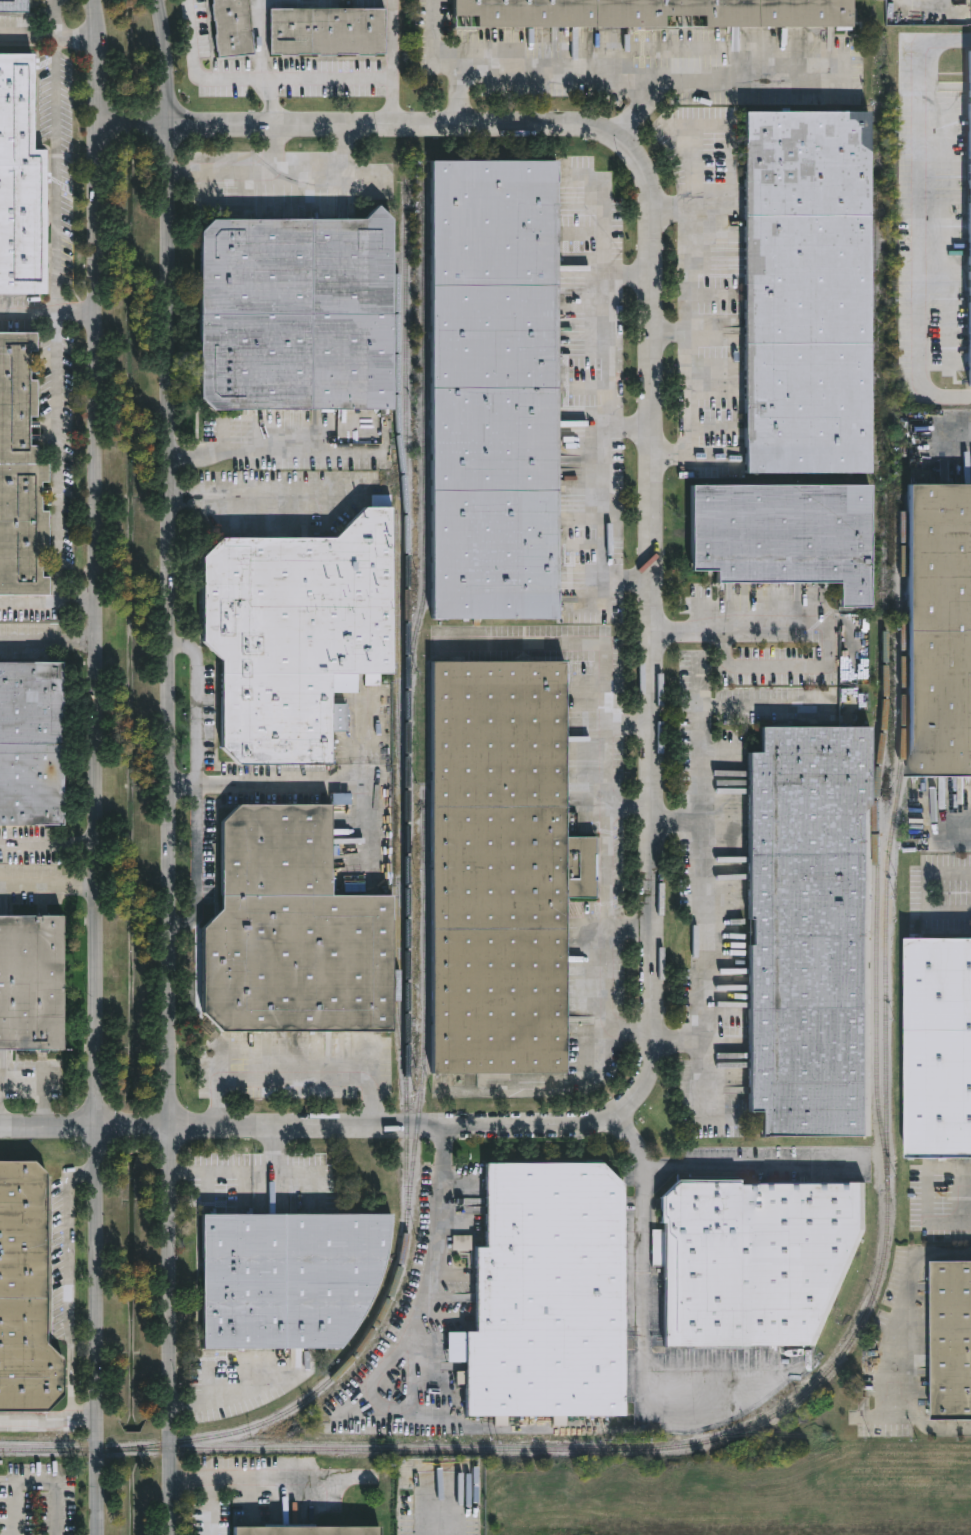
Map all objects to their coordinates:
building: (12, 5)
building: (644, 13)
road: (55, 18)
building: (229, 28)
building: (323, 32)
road: (48, 36)
road: (434, 44)
road: (263, 61)
road: (391, 61)
road: (645, 65)
road: (254, 78)
road: (460, 94)
road: (643, 106)
road: (692, 165)
road: (56, 173)
road: (247, 173)
road: (331, 173)
building: (17, 184)
road: (917, 218)
building: (801, 293)
railway: (873, 301)
road: (600, 307)
road: (48, 309)
road: (692, 313)
building: (292, 314)
road: (673, 333)
railway: (396, 390)
building: (489, 390)
road: (274, 450)
railway: (423, 450)
road: (60, 457)
road: (692, 458)
building: (17, 476)
road: (600, 491)
road: (265, 495)
building: (779, 537)
road: (628, 574)
road: (49, 604)
road: (828, 628)
road: (655, 630)
building: (937, 631)
building: (291, 635)
road: (49, 643)
railway: (396, 672)
road: (698, 682)
railway: (884, 718)
road: (605, 724)
building: (28, 746)
road: (98, 767)
road: (170, 767)
road: (264, 783)
road: (197, 785)
road: (678, 822)
road: (955, 827)
road: (700, 833)
road: (49, 843)
building: (502, 868)
road: (48, 880)
road: (926, 893)
building: (287, 933)
building: (805, 933)
railway: (406, 962)
building: (28, 984)
railway: (397, 984)
railway: (424, 1015)
building: (937, 1050)
road: (585, 1074)
road: (294, 1076)
road: (704, 1078)
road: (40, 1083)
road: (48, 1128)
road: (273, 1152)
road: (754, 1165)
road: (243, 1174)
road: (950, 1219)
building: (750, 1261)
building: (283, 1277)
road: (69, 1279)
building: (22, 1294)
building: (544, 1294)
road: (651, 1301)
railway: (866, 1305)
road: (409, 1333)
road: (907, 1341)
building: (950, 1341)
road: (228, 1395)
road: (53, 1423)
road: (258, 1477)
road: (35, 1480)
building: (299, 1531)

